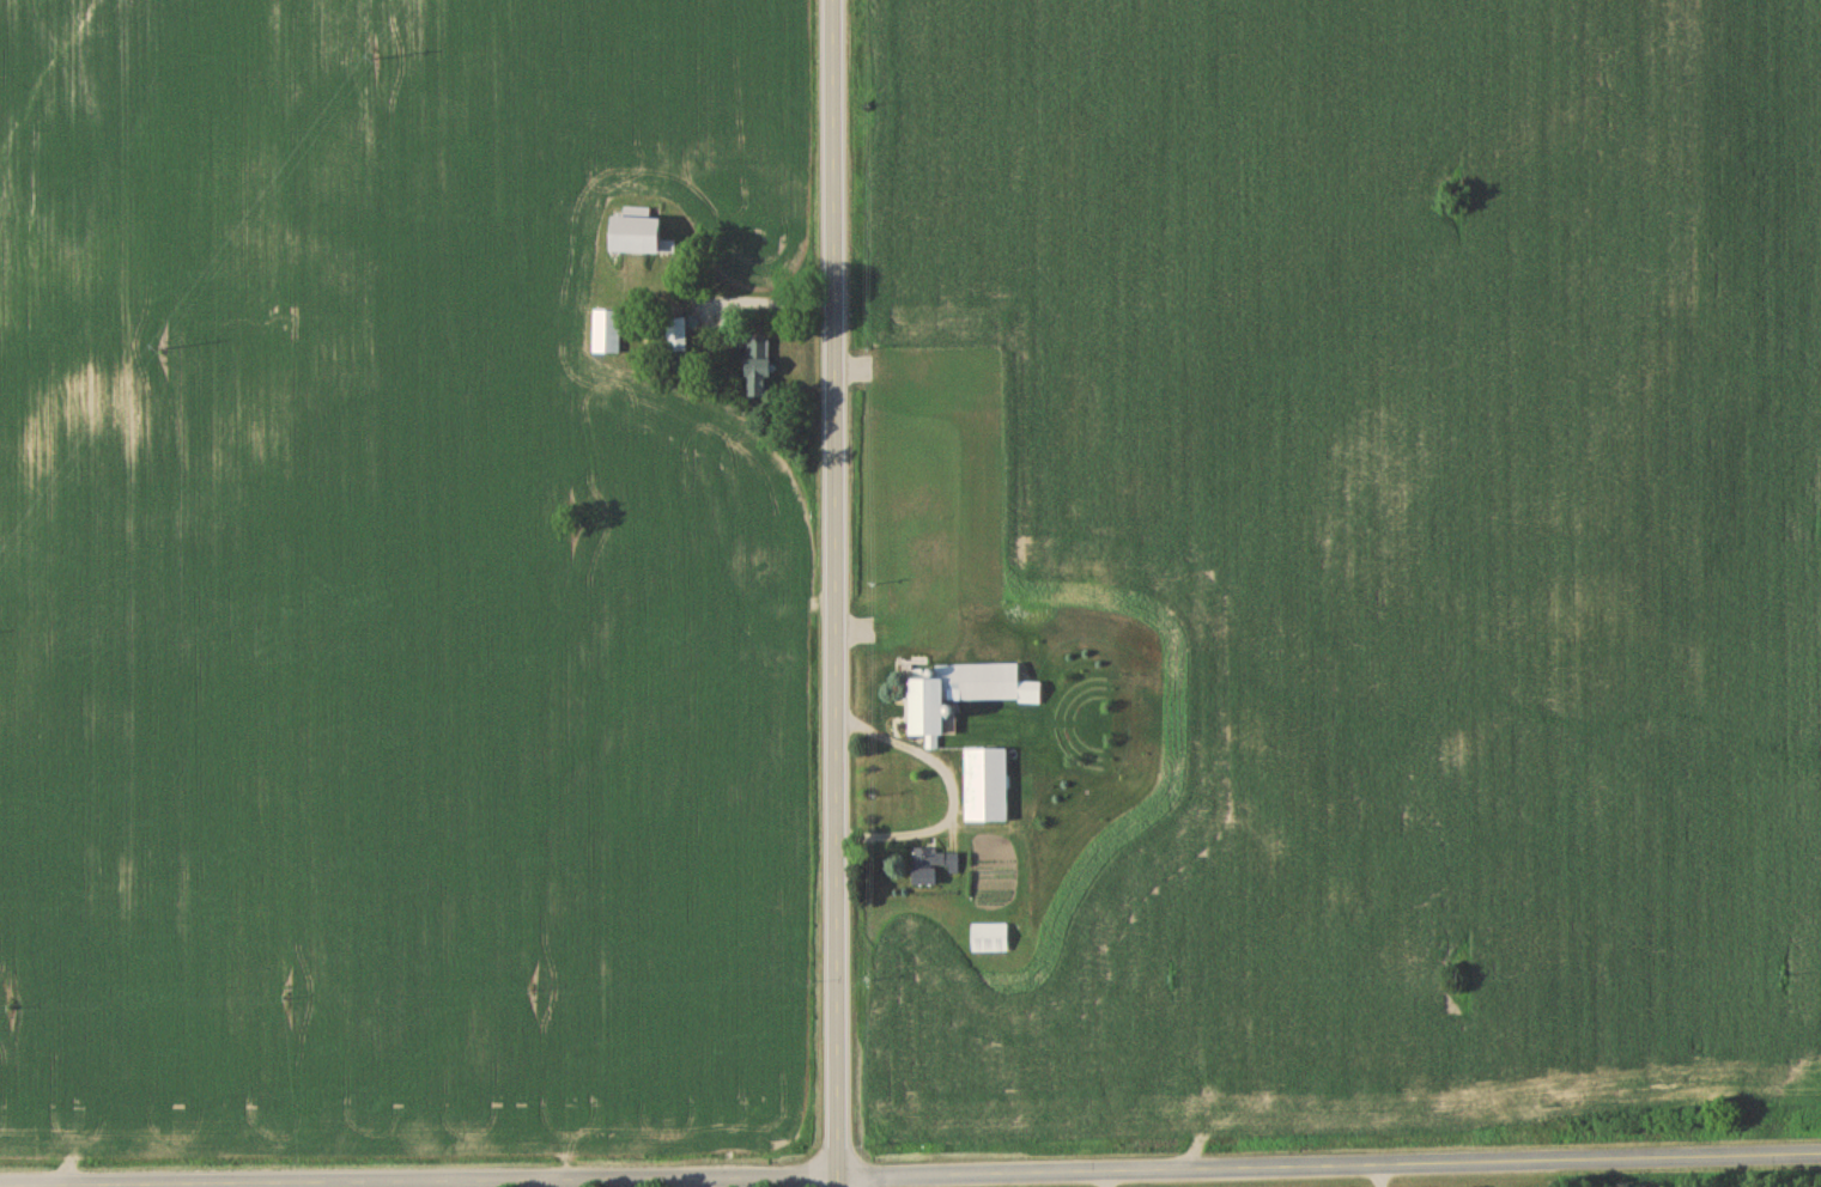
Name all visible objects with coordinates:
building: (638, 235)
building: (608, 335)
building: (678, 339)
building: (761, 371)
road: (834, 592)
building: (965, 696)
building: (989, 789)
building: (935, 869)
building: (990, 941)
road: (939, 1176)
road: (1110, 1180)
park: (1440, 1183)
road: (229, 1186)

